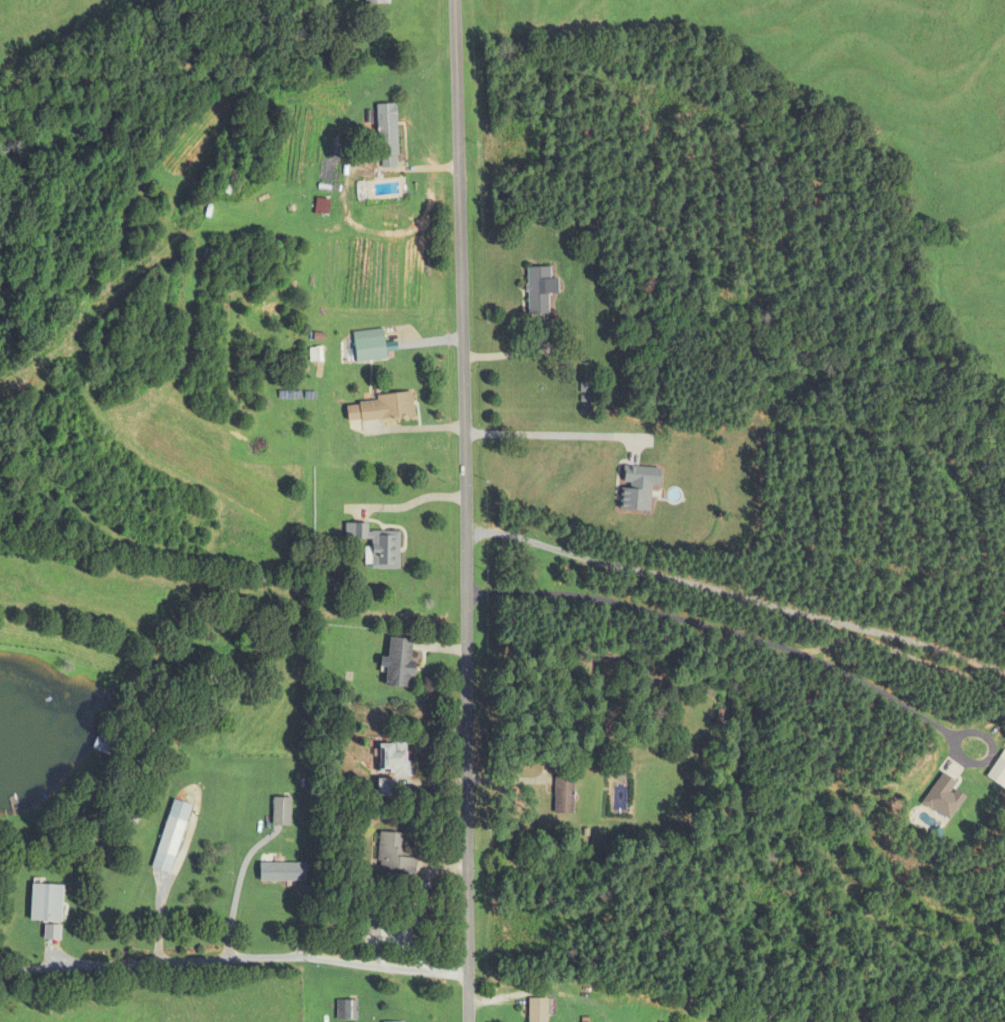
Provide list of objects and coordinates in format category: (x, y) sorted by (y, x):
building: (377, 2)
building: (387, 135)
building: (230, 172)
building: (538, 292)
building: (369, 350)
building: (382, 409)
road: (555, 434)
road: (468, 510)
building: (376, 546)
road: (779, 645)
building: (399, 664)
building: (103, 745)
building: (394, 759)
building: (563, 796)
building: (281, 812)
building: (171, 837)
building: (393, 856)
building: (282, 873)
road: (236, 888)
building: (46, 904)
road: (159, 904)
building: (369, 932)
road: (258, 956)
building: (346, 1010)
building: (537, 1010)

